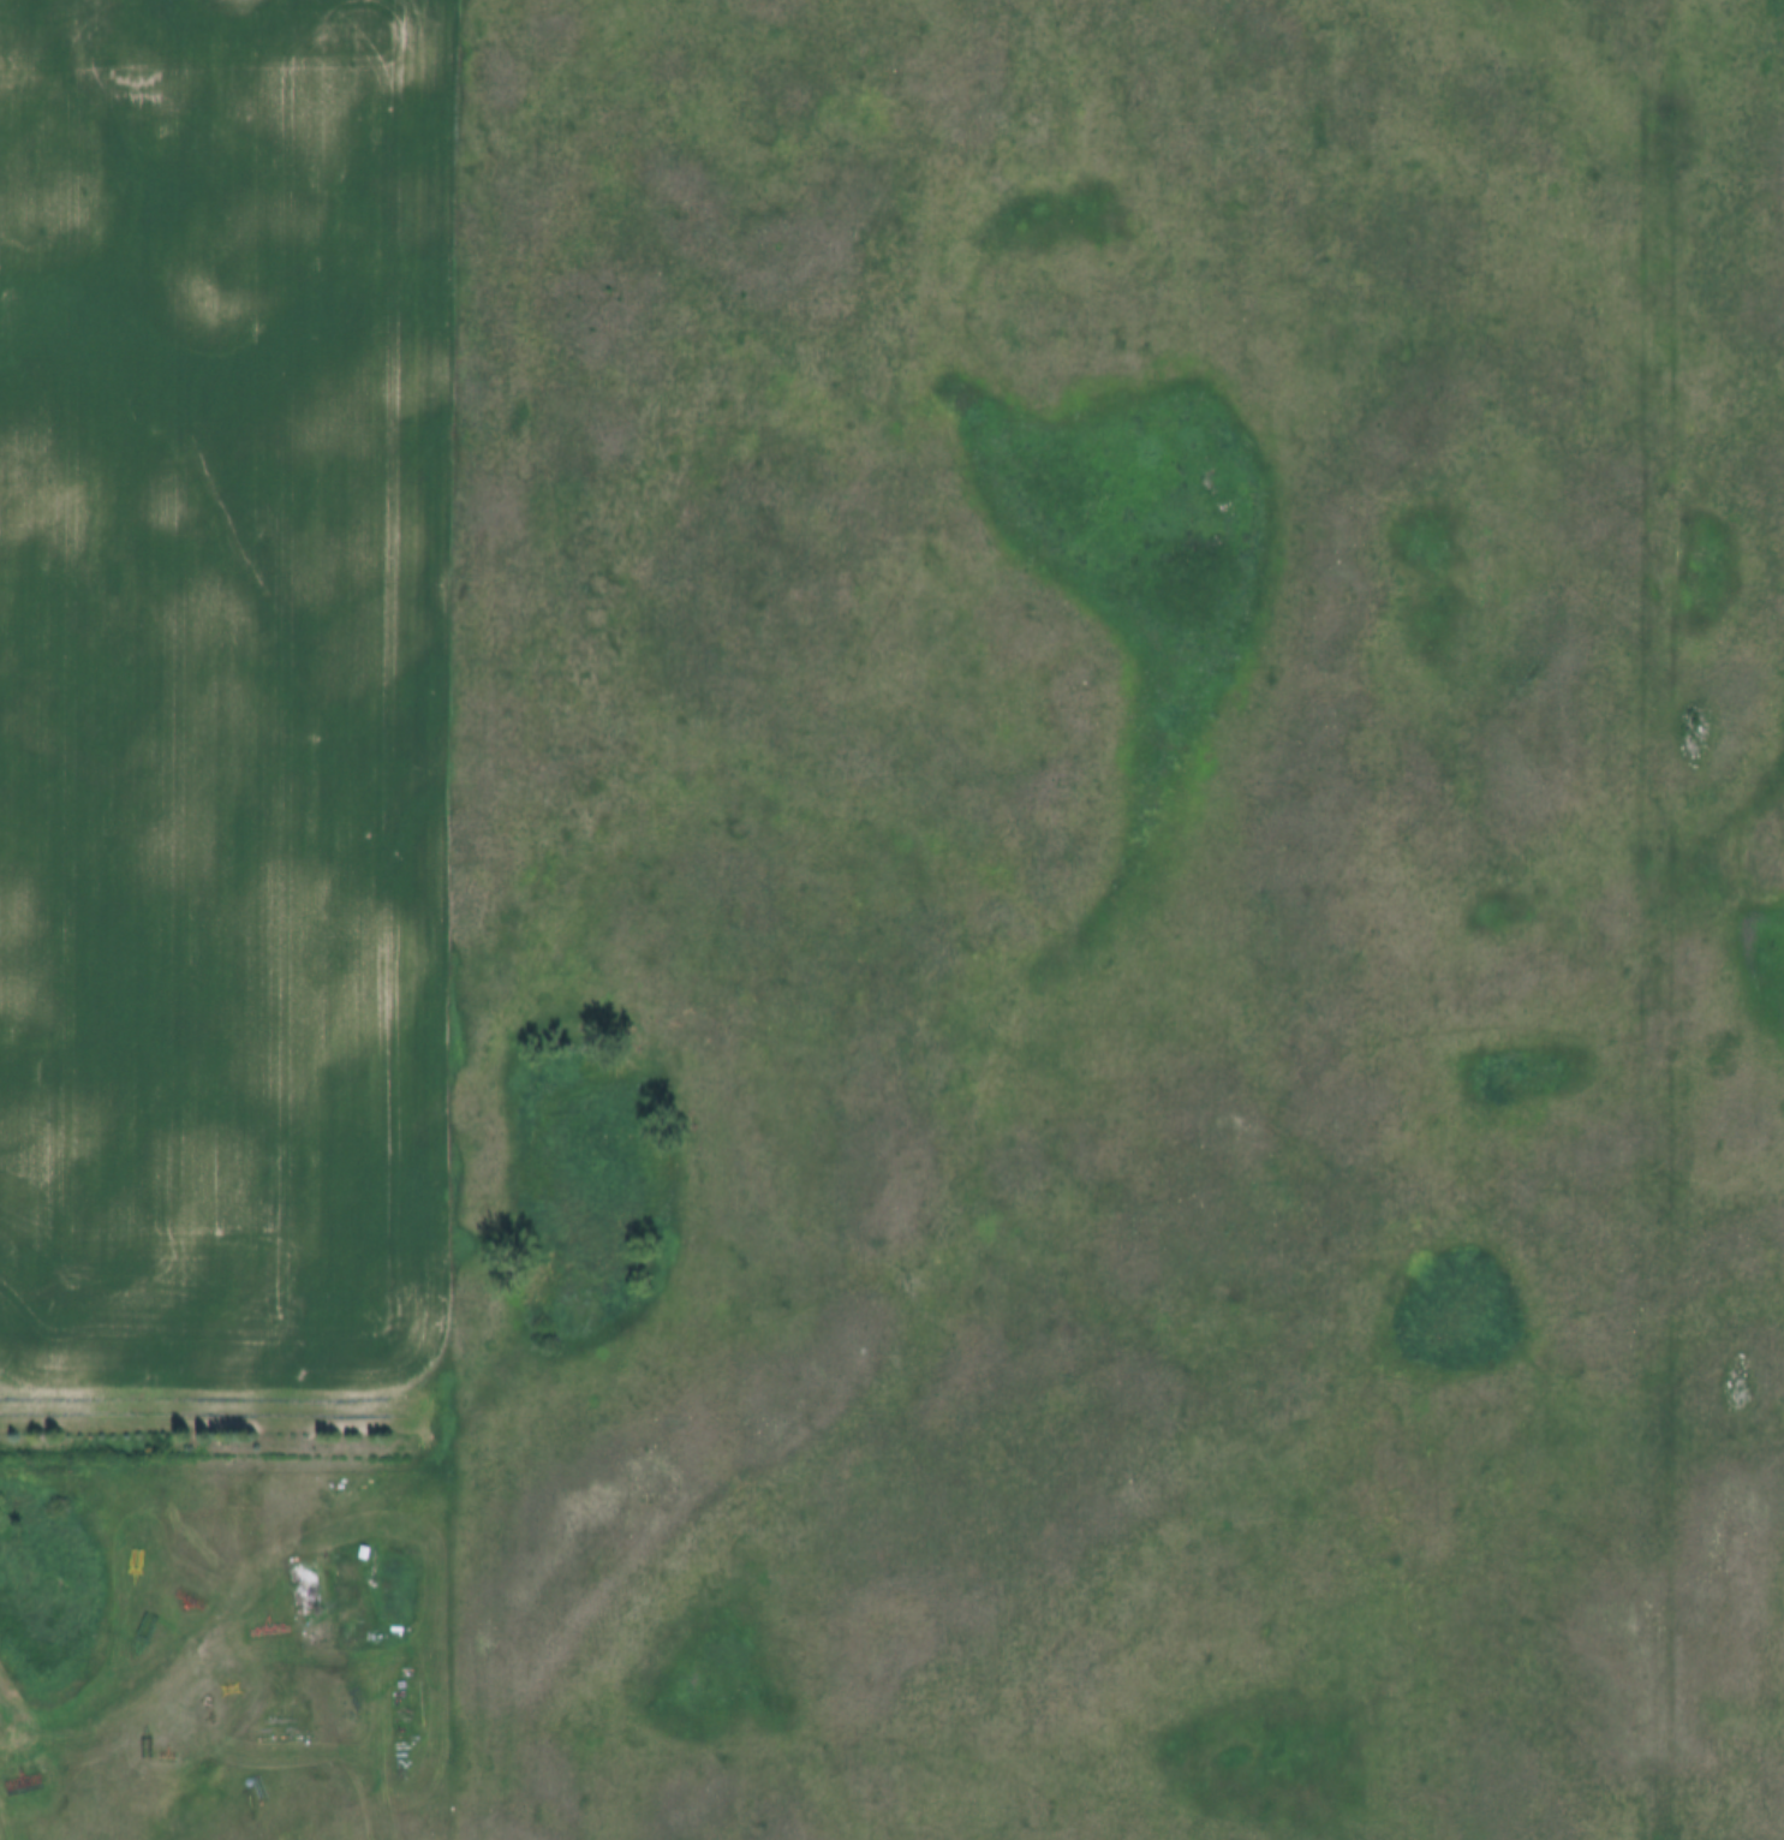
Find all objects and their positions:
road: (143, 1687)

